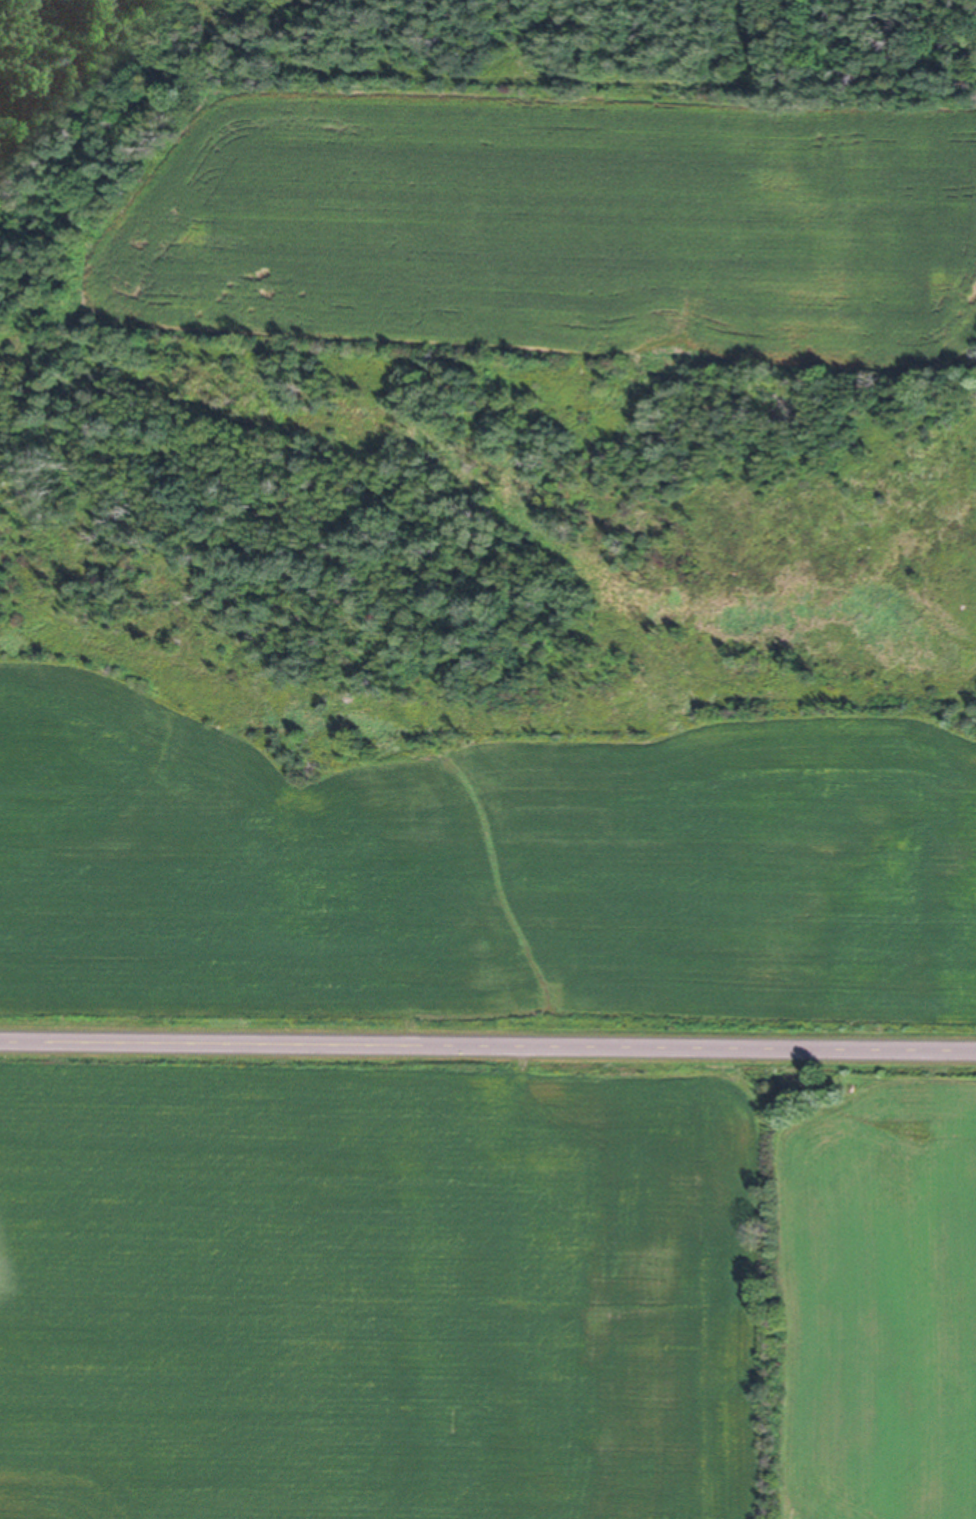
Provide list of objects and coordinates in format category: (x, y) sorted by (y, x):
road: (487, 1043)

